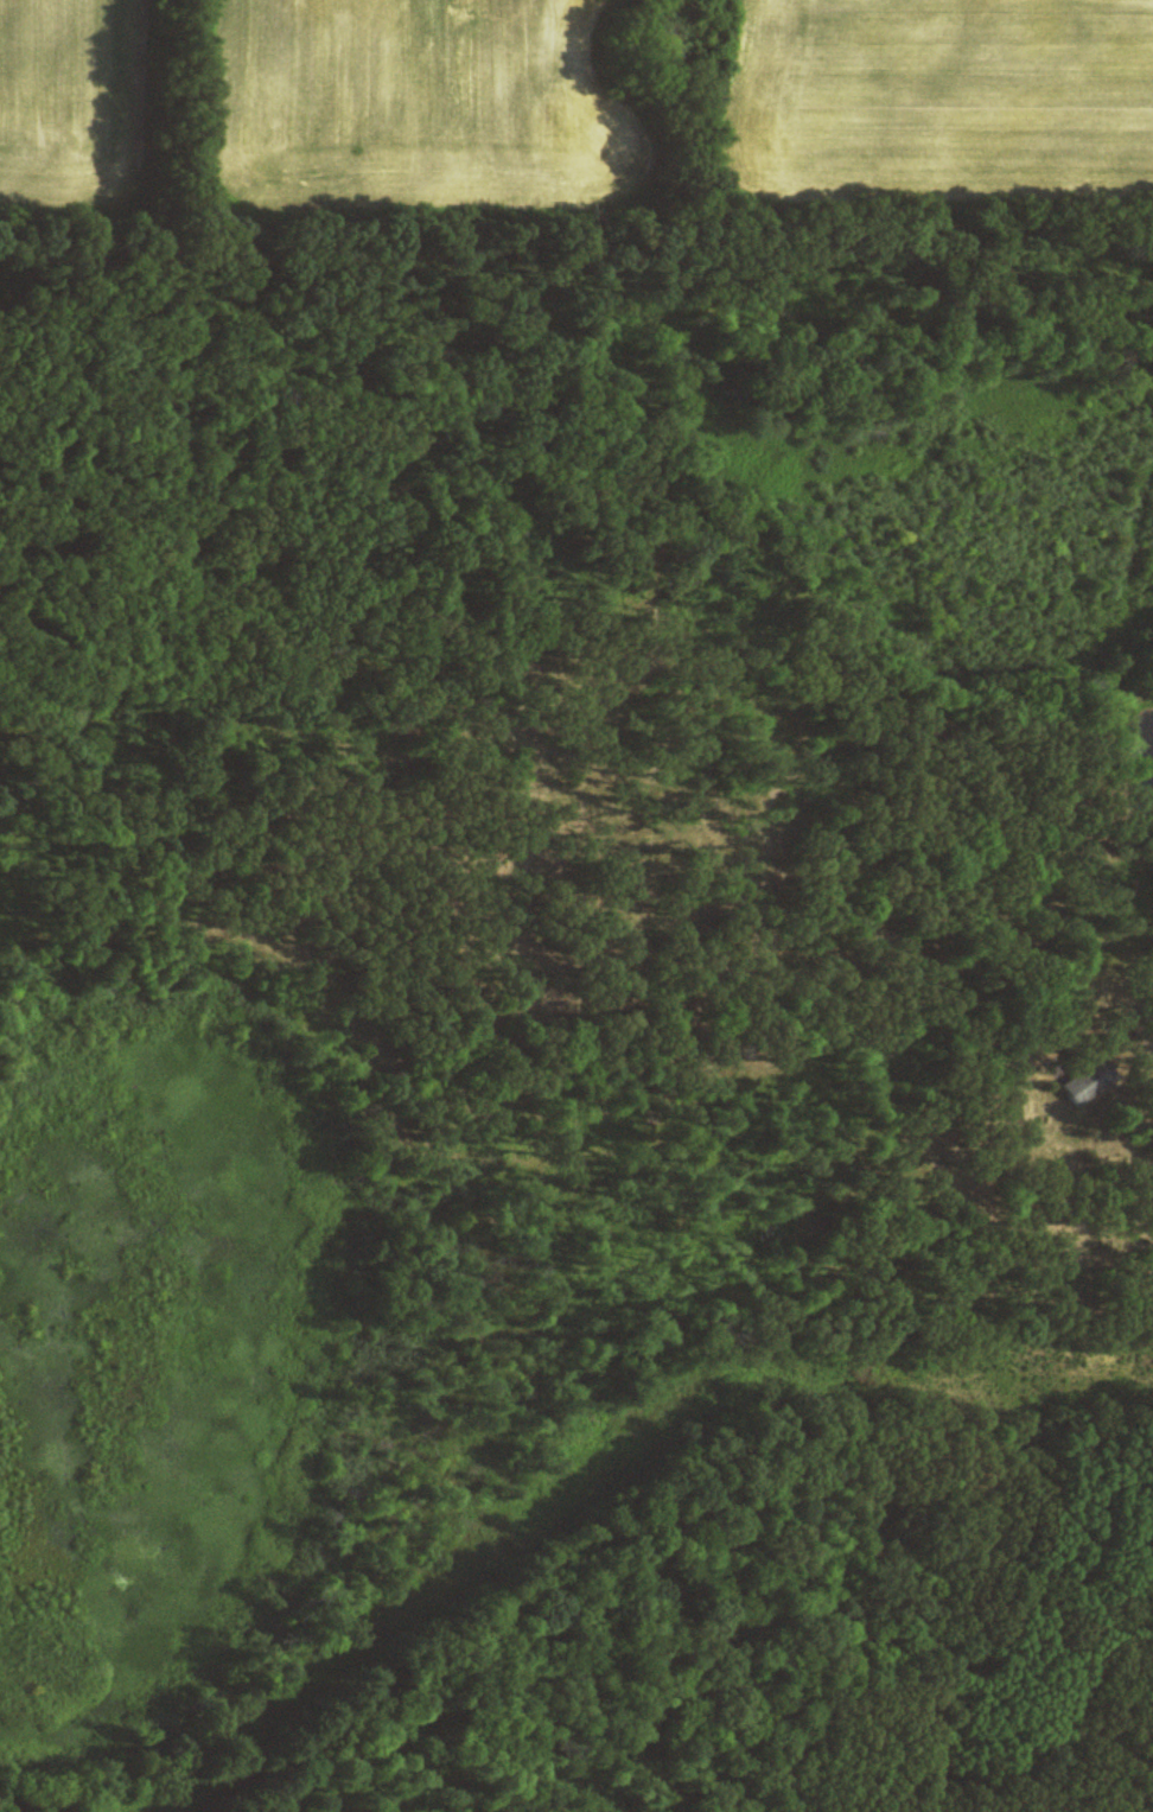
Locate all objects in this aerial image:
road: (1128, 1015)
building: (1090, 1082)

